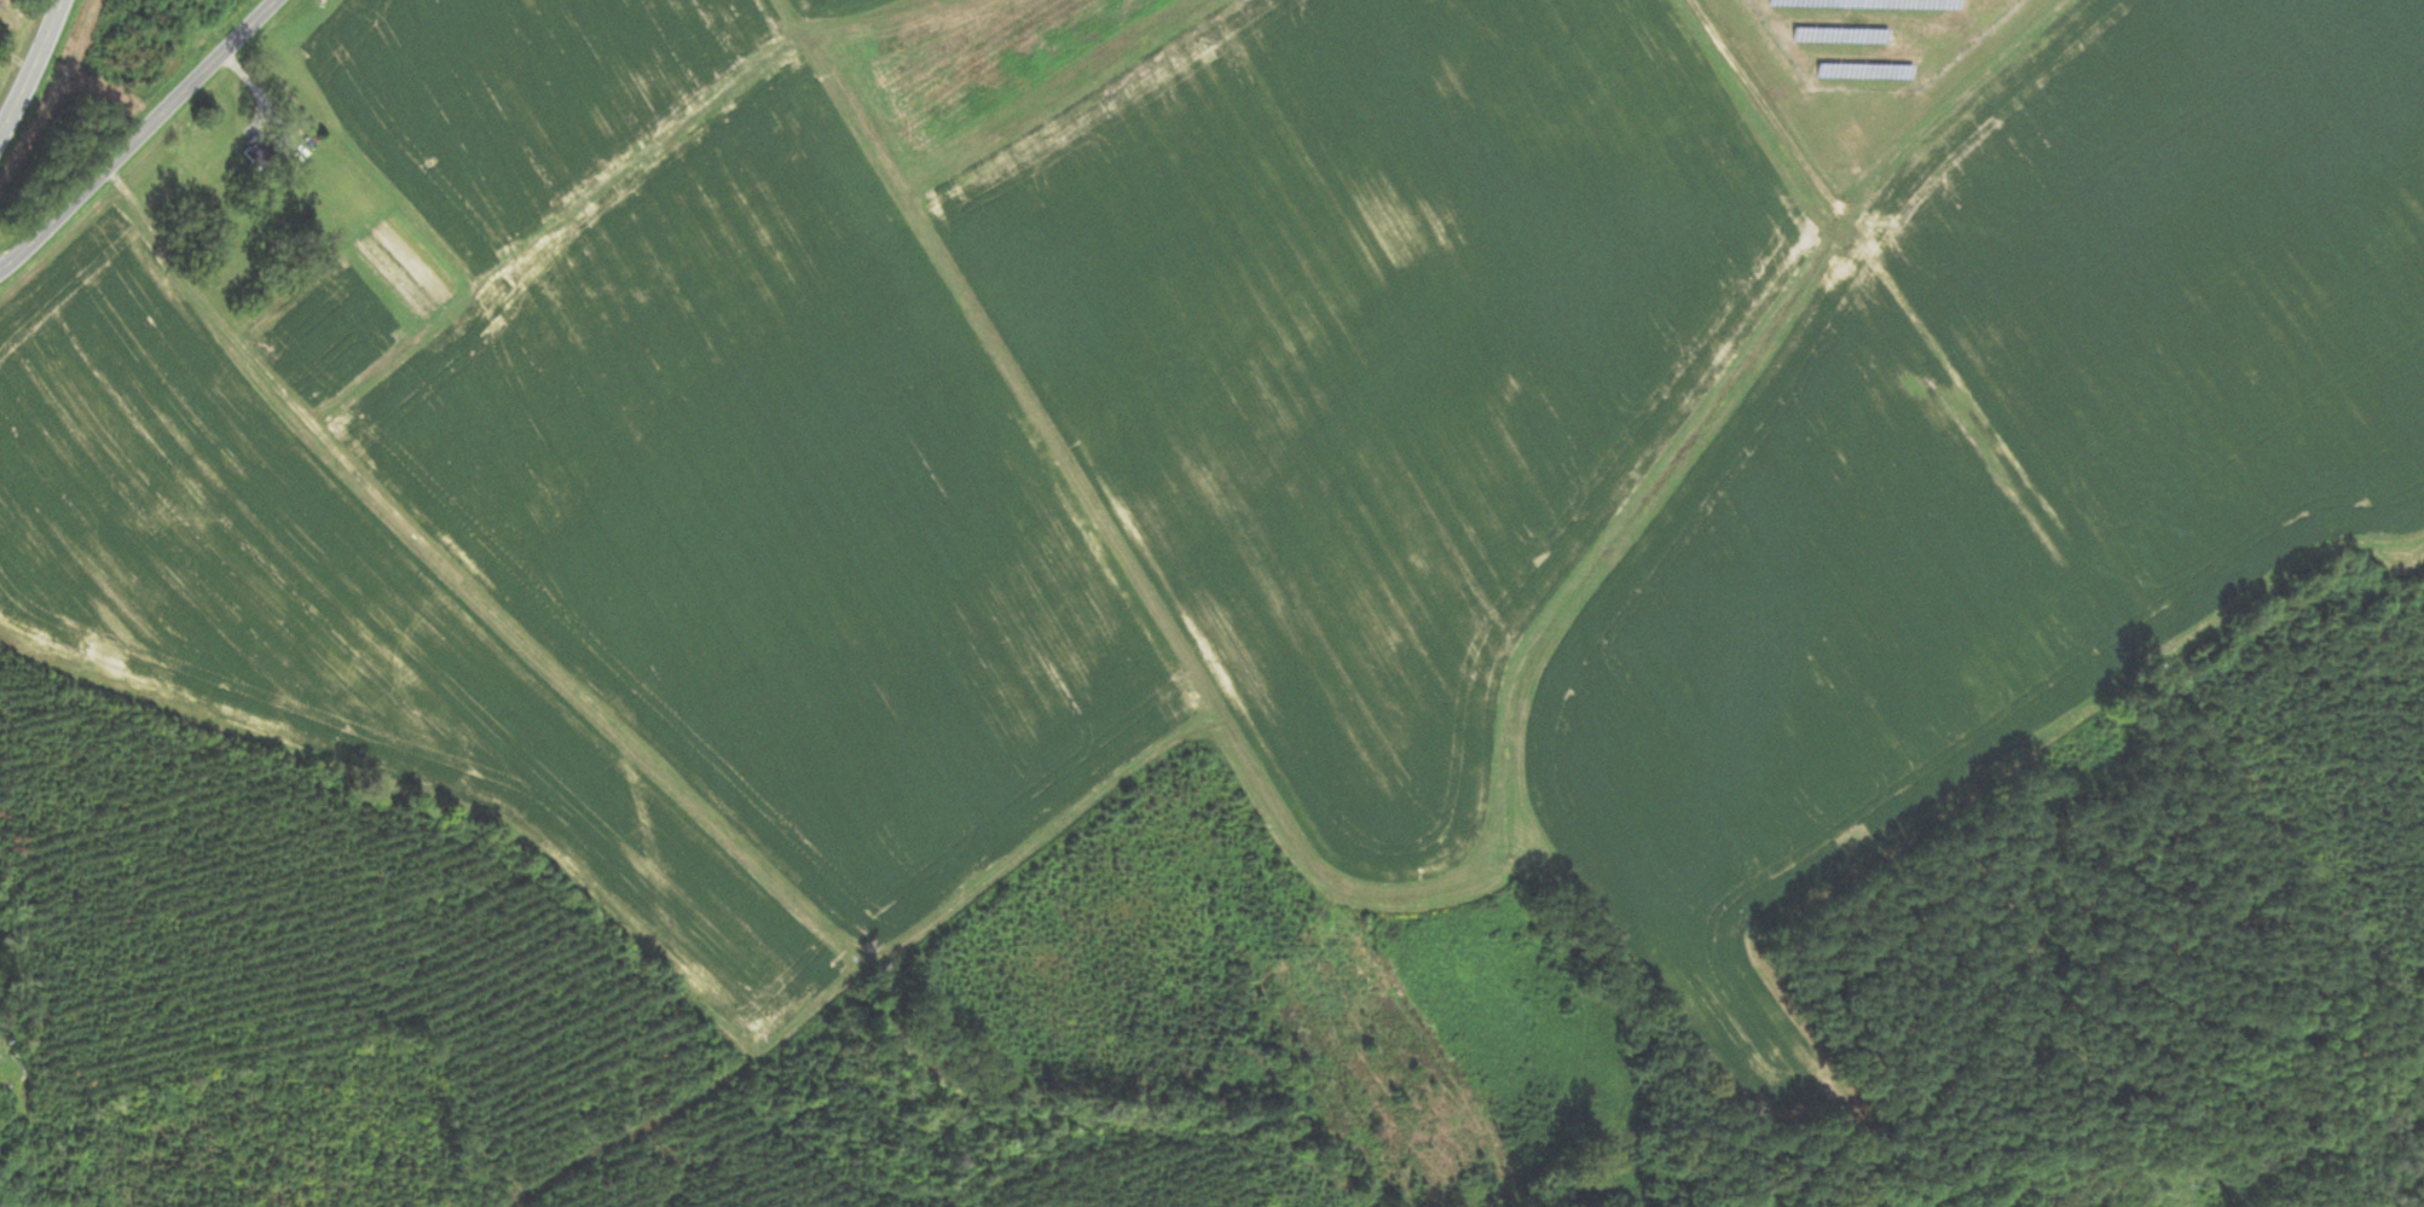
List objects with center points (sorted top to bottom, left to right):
road: (33, 70)
road: (137, 133)
building: (256, 153)

